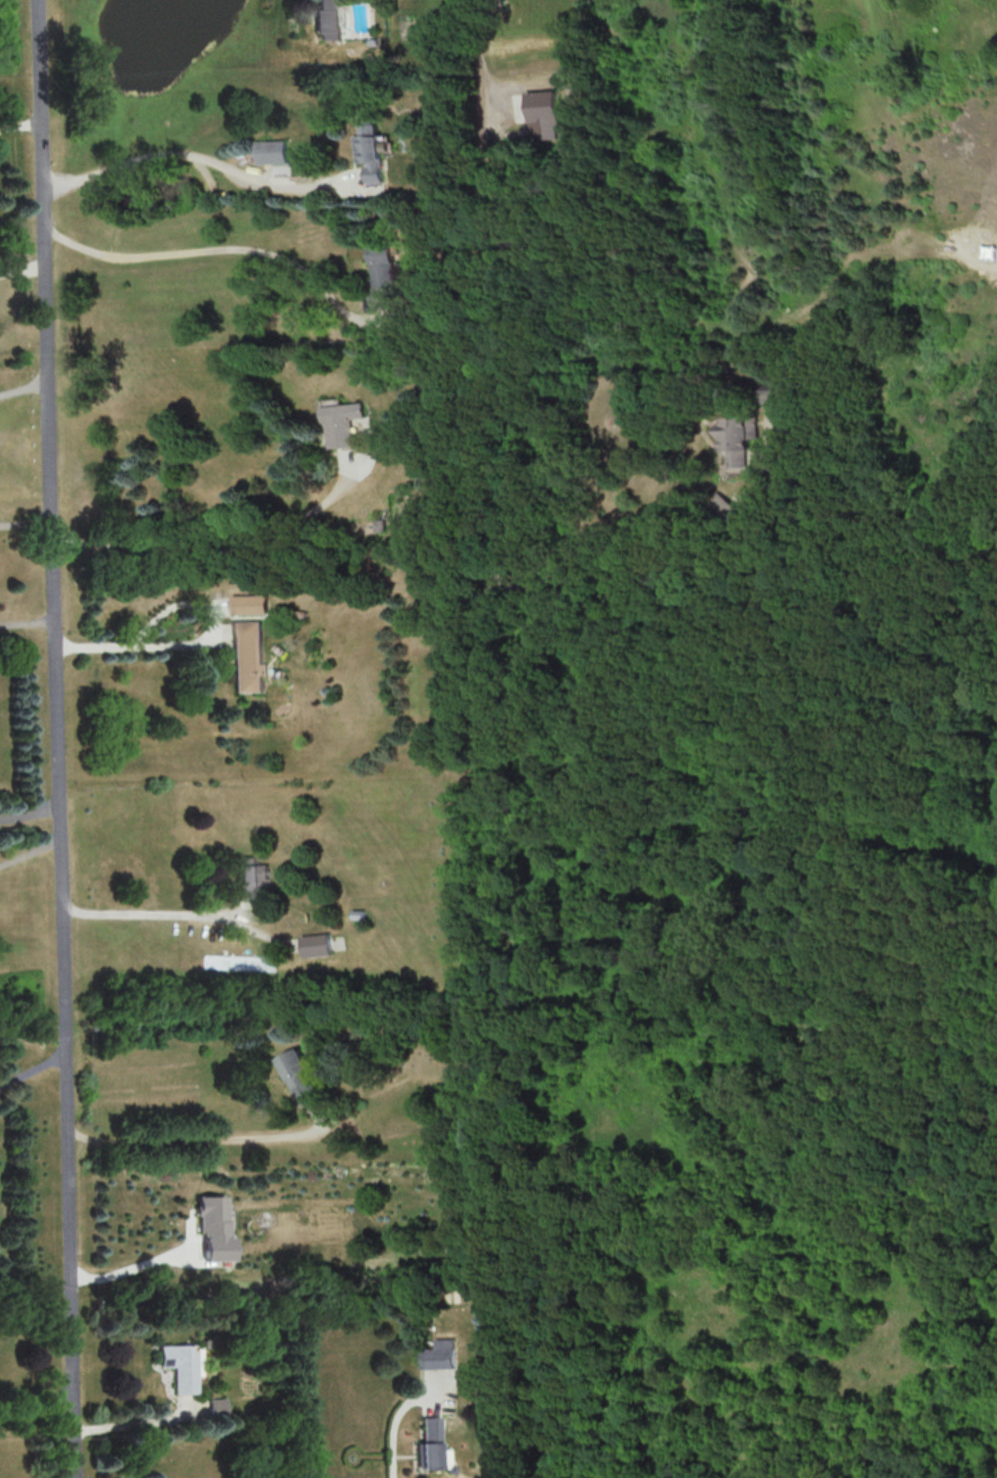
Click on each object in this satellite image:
building: (327, 19)
building: (541, 114)
road: (19, 125)
building: (271, 151)
building: (370, 151)
road: (199, 156)
road: (217, 247)
building: (380, 274)
road: (479, 292)
road: (23, 393)
building: (769, 393)
building: (341, 423)
building: (737, 438)
road: (212, 527)
road: (683, 574)
building: (248, 604)
road: (139, 643)
building: (247, 656)
road: (56, 739)
road: (29, 814)
road: (30, 850)
building: (250, 876)
road: (153, 917)
building: (315, 944)
road: (33, 1069)
building: (299, 1075)
road: (204, 1135)
building: (213, 1226)
road: (132, 1265)
building: (438, 1354)
building: (183, 1366)
building: (220, 1405)
road: (38, 1414)
road: (137, 1424)
road: (394, 1424)
building: (432, 1445)

